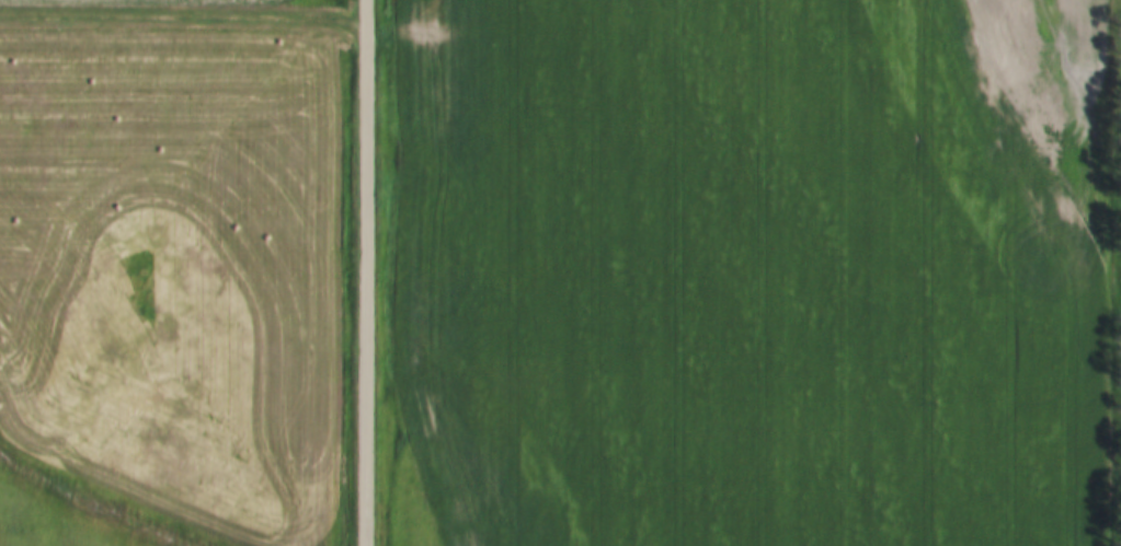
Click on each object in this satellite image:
road: (183, 18)
road: (365, 272)

